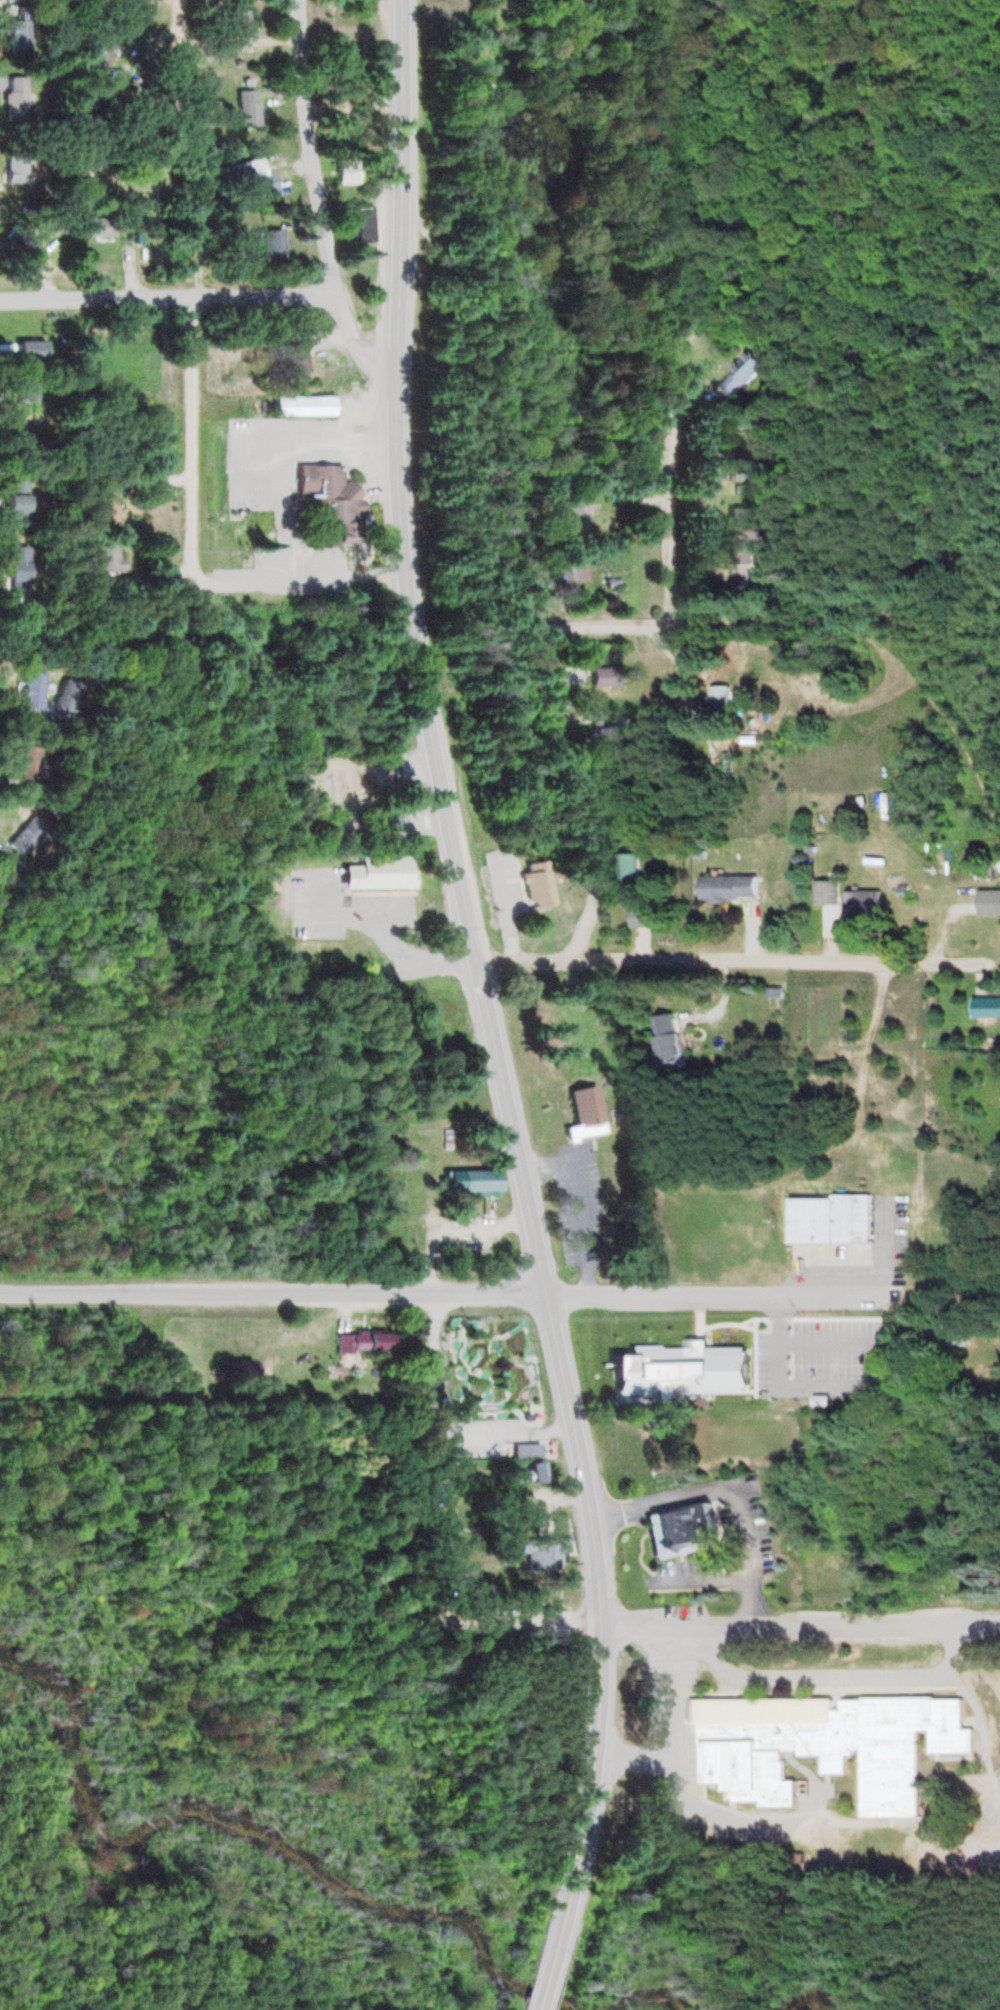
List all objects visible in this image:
building: (236, 22)
building: (18, 35)
road: (184, 39)
building: (99, 48)
building: (15, 98)
building: (248, 108)
building: (15, 167)
building: (247, 176)
road: (321, 199)
building: (359, 225)
building: (95, 227)
building: (17, 237)
building: (272, 244)
road: (263, 295)
road: (94, 299)
building: (28, 350)
building: (294, 359)
building: (738, 374)
building: (302, 406)
building: (25, 412)
road: (496, 416)
road: (191, 436)
parking lot: (277, 453)
road: (671, 496)
building: (325, 501)
building: (13, 504)
building: (107, 511)
building: (576, 516)
building: (12, 569)
parking lot: (291, 572)
building: (571, 573)
road: (301, 577)
road: (606, 624)
building: (602, 678)
building: (32, 689)
building: (66, 695)
building: (718, 705)
building: (592, 711)
building: (30, 762)
building: (346, 782)
road: (570, 802)
building: (393, 813)
building: (29, 836)
building: (628, 867)
building: (5, 868)
building: (378, 871)
building: (726, 888)
building: (537, 889)
building: (823, 893)
building: (987, 903)
building: (861, 904)
parking lot: (348, 906)
road: (394, 917)
building: (637, 919)
road: (383, 925)
road: (723, 960)
road: (983, 962)
road: (485, 985)
building: (985, 1006)
building: (665, 1044)
building: (585, 1114)
building: (470, 1180)
building: (829, 1218)
building: (715, 1245)
road: (273, 1293)
road: (714, 1296)
road: (786, 1314)
road: (697, 1316)
building: (948, 1333)
building: (628, 1338)
road: (823, 1338)
building: (364, 1341)
road: (751, 1352)
road: (439, 1355)
parking lot: (816, 1356)
building: (238, 1369)
building: (680, 1370)
road: (779, 1384)
road: (560, 1421)
parking lot: (482, 1434)
building: (527, 1448)
building: (529, 1473)
road: (658, 1500)
parking lot: (740, 1523)
building: (683, 1529)
building: (542, 1553)
building: (462, 1578)
road: (751, 1606)
road: (801, 1626)
road: (835, 1675)
parking lot: (667, 1685)
building: (822, 1744)
road: (636, 1755)
road: (673, 1763)
parking lot: (725, 1817)
road: (552, 1986)

